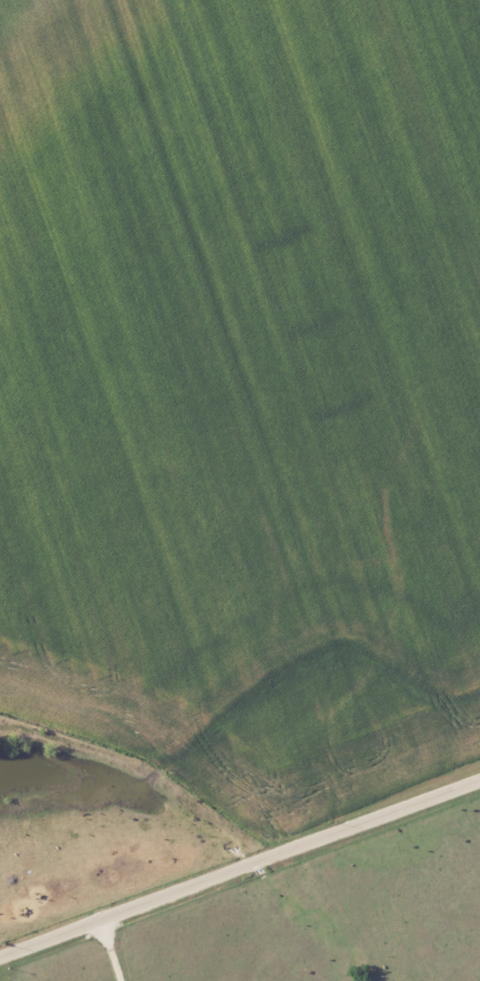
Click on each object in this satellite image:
road: (240, 868)
road: (112, 950)

